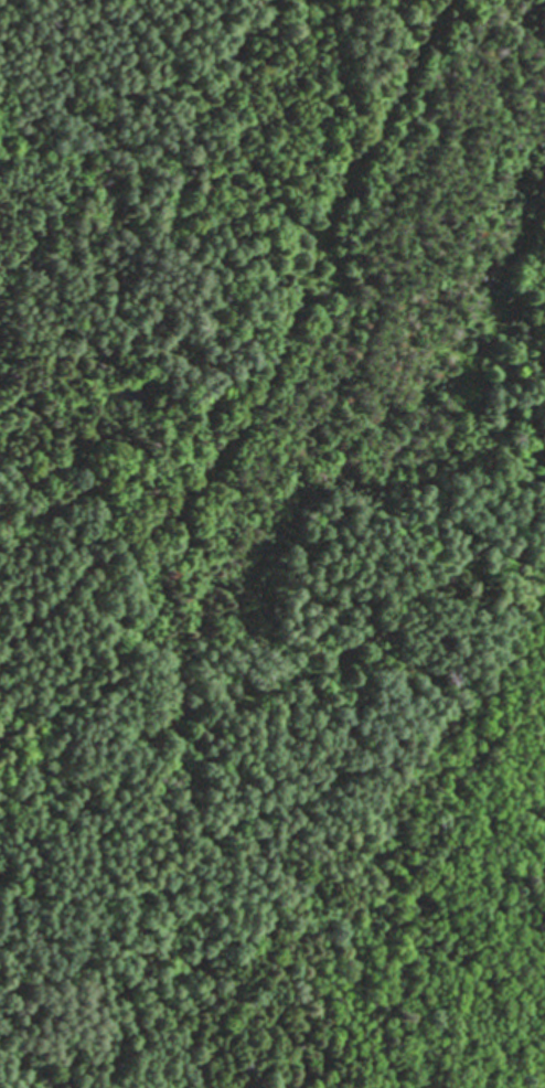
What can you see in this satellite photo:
road: (280, 361)

